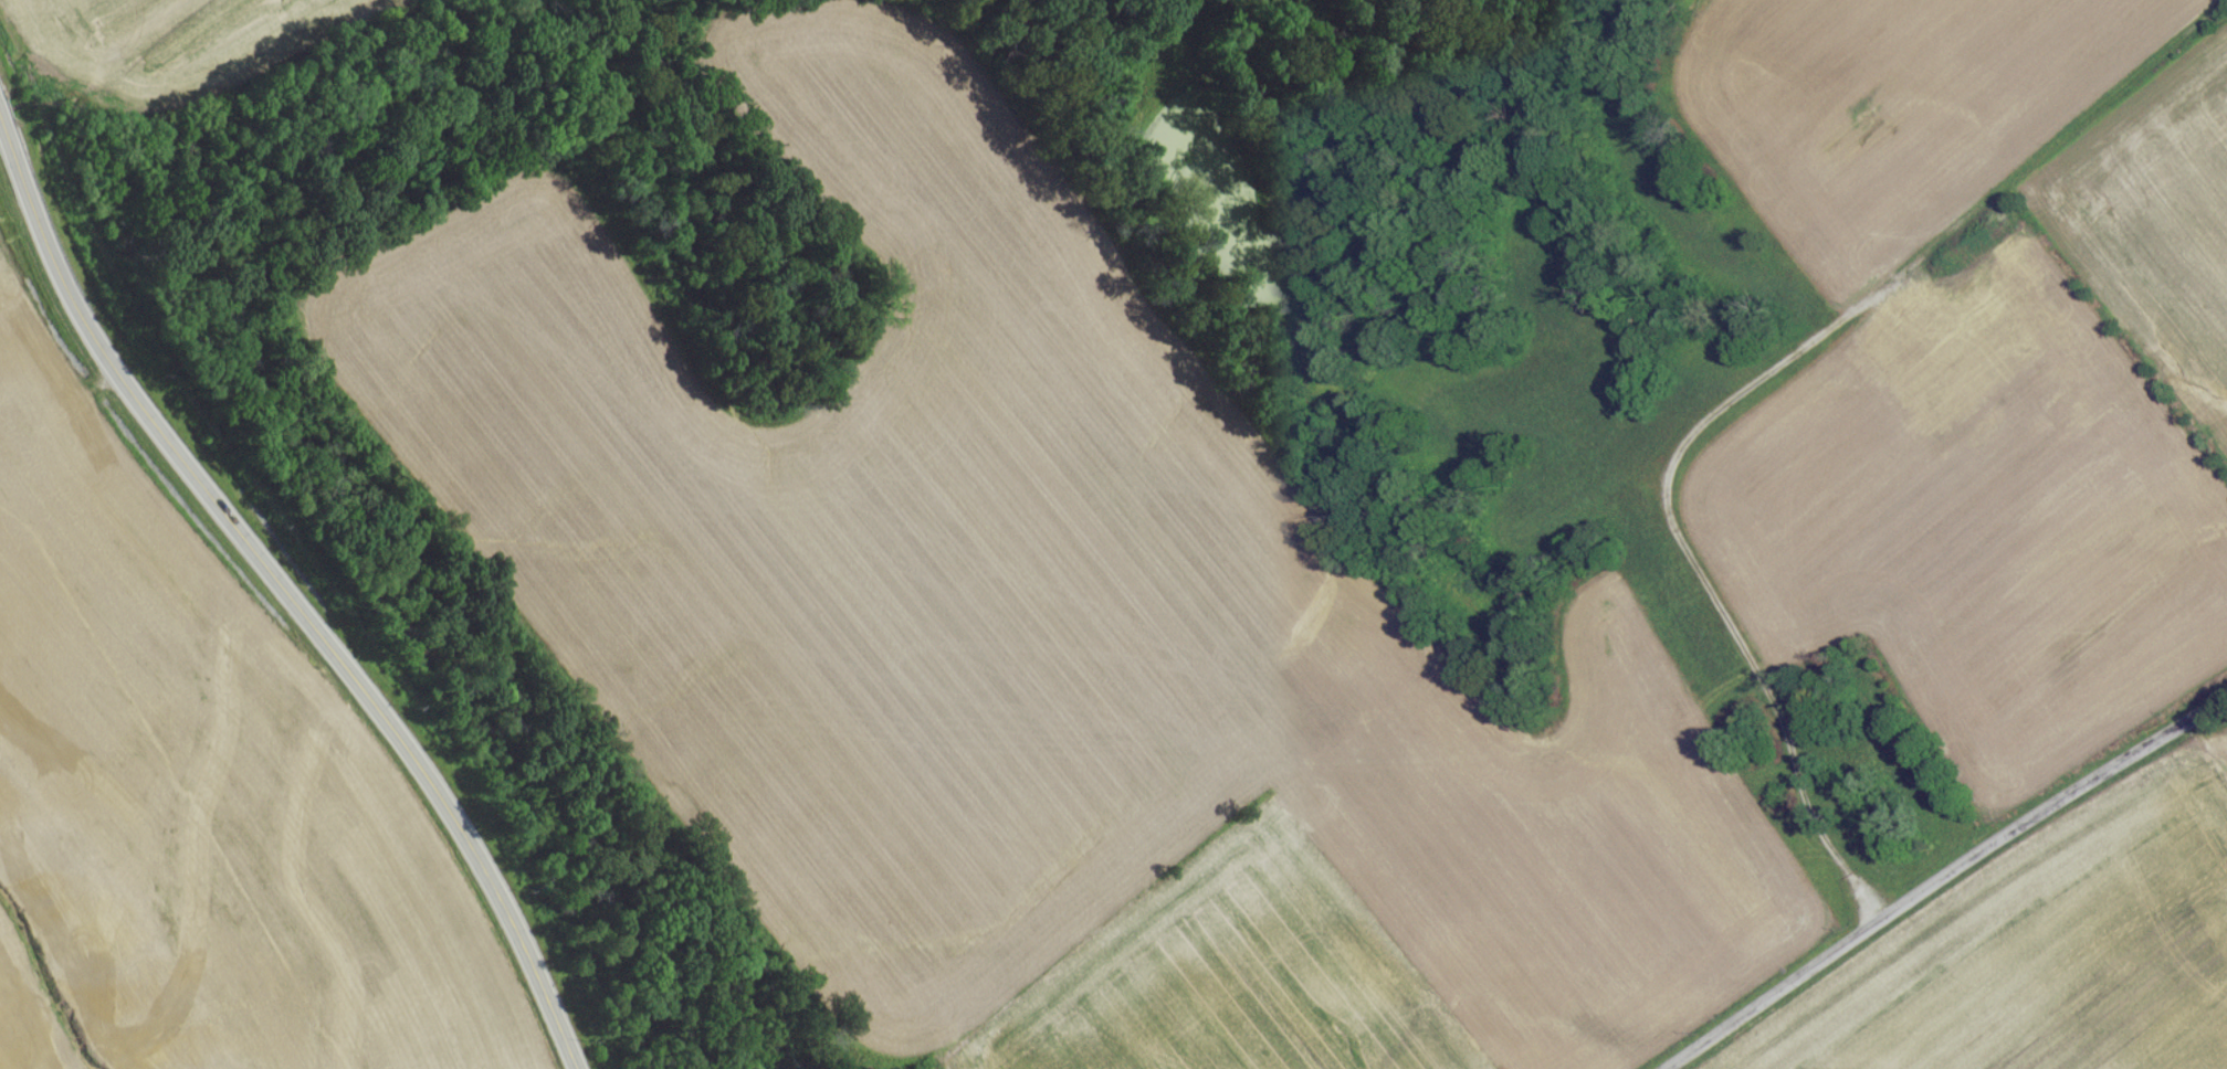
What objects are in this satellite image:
road: (284, 597)
road: (1945, 881)

